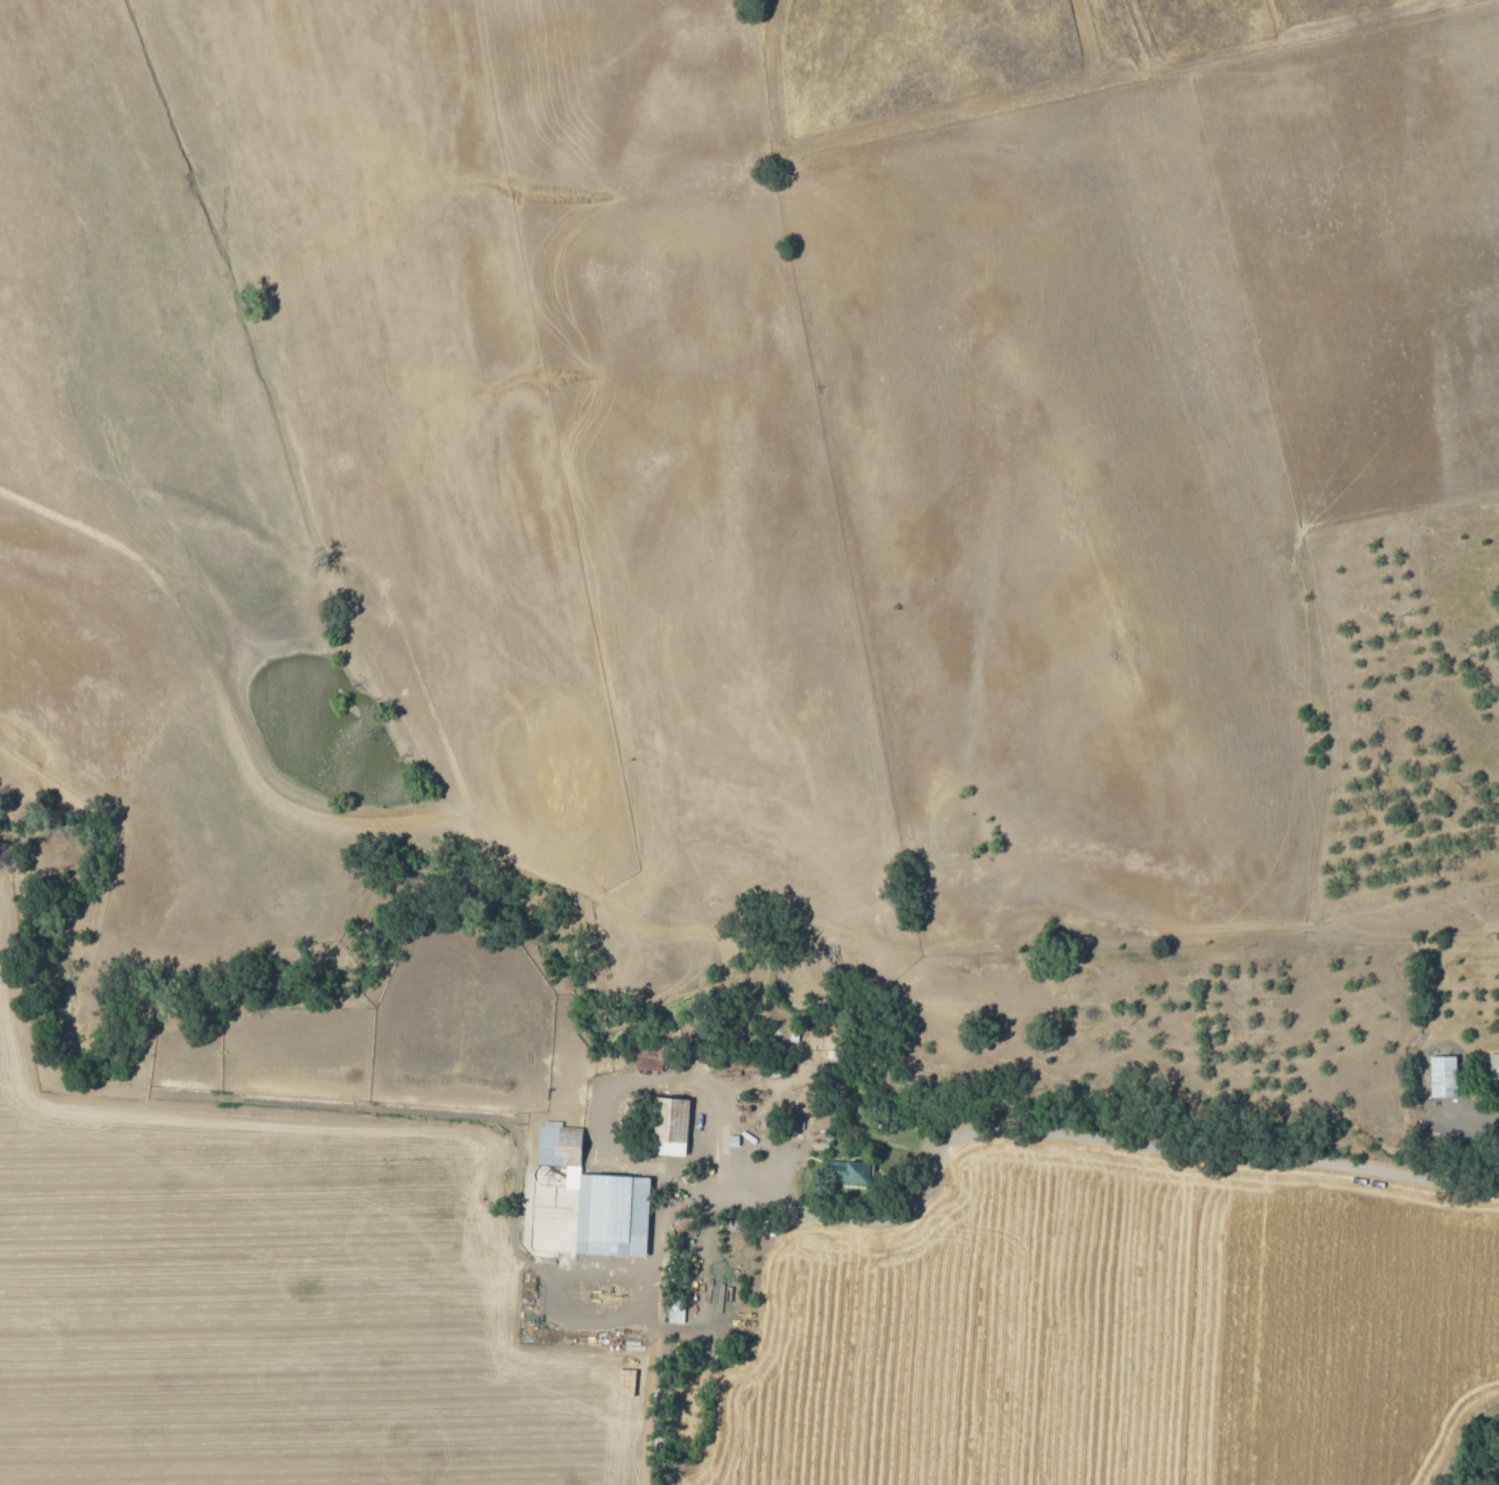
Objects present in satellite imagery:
building: (1494, 1065)
building: (1444, 1075)
building: (674, 1129)
road: (1099, 1134)
building: (549, 1143)
building: (858, 1172)
building: (613, 1214)
building: (676, 1314)

